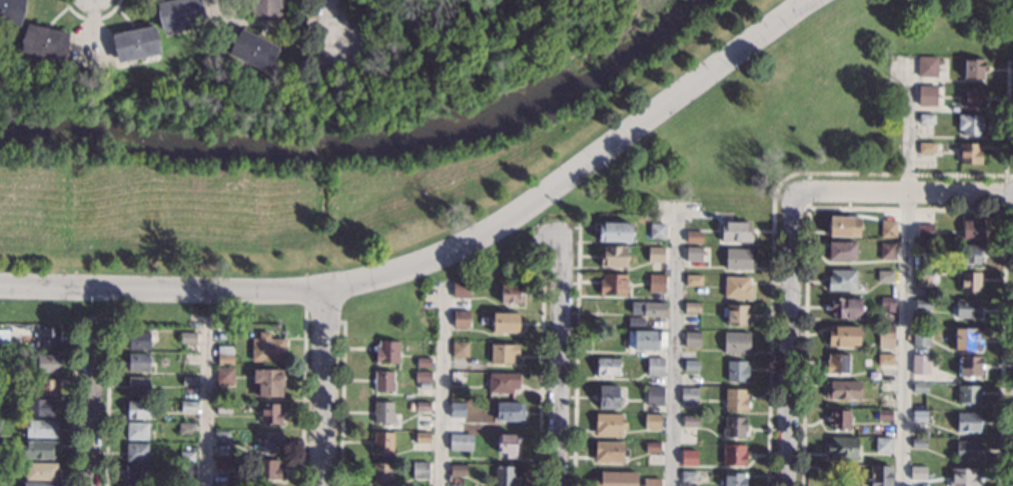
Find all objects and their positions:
building: (264, 7)
building: (11, 11)
building: (179, 13)
road: (89, 19)
road: (263, 24)
road: (330, 27)
road: (298, 31)
building: (44, 42)
building: (135, 43)
building: (253, 50)
building: (927, 66)
building: (974, 68)
building: (927, 91)
building: (972, 97)
building: (926, 118)
building: (970, 125)
park: (452, 139)
river: (366, 144)
building: (929, 147)
building: (969, 153)
road: (579, 166)
road: (903, 194)
building: (843, 226)
building: (888, 229)
building: (926, 230)
building: (972, 230)
building: (657, 231)
building: (614, 232)
building: (736, 232)
building: (694, 237)
building: (923, 247)
building: (842, 251)
building: (887, 251)
building: (693, 253)
building: (655, 254)
building: (970, 254)
building: (613, 256)
building: (738, 259)
building: (929, 265)
road: (905, 275)
building: (885, 276)
building: (693, 280)
building: (841, 280)
building: (922, 280)
building: (970, 281)
building: (656, 282)
building: (613, 284)
road: (164, 286)
building: (737, 287)
building: (461, 288)
road: (305, 289)
building: (511, 291)
building: (923, 304)
building: (887, 305)
building: (692, 307)
building: (844, 308)
building: (966, 308)
building: (648, 309)
building: (736, 314)
road: (91, 317)
road: (324, 318)
building: (461, 319)
building: (506, 322)
building: (635, 322)
building: (843, 335)
building: (886, 335)
building: (187, 337)
building: (921, 337)
building: (50, 338)
building: (692, 339)
building: (965, 339)
building: (138, 340)
building: (646, 340)
road: (787, 341)
building: (736, 342)
building: (267, 348)
road: (671, 348)
building: (460, 349)
building: (386, 351)
building: (503, 353)
building: (224, 355)
road: (557, 358)
building: (885, 359)
building: (921, 360)
building: (138, 362)
building: (423, 362)
building: (47, 363)
building: (837, 363)
building: (691, 365)
building: (607, 366)
building: (654, 366)
building: (969, 367)
building: (737, 371)
building: (224, 375)
building: (458, 377)
building: (423, 379)
building: (188, 381)
building: (383, 381)
building: (268, 382)
building: (503, 382)
building: (137, 385)
road: (326, 386)
building: (48, 387)
road: (207, 387)
building: (886, 387)
building: (920, 388)
building: (842, 389)
road: (440, 391)
building: (968, 393)
building: (688, 395)
road: (303, 396)
building: (654, 396)
building: (608, 397)
building: (736, 400)
building: (411, 405)
building: (187, 406)
building: (423, 406)
building: (42, 407)
building: (223, 407)
building: (137, 409)
building: (457, 409)
road: (91, 411)
building: (509, 411)
building: (383, 413)
building: (270, 414)
building: (884, 414)
building: (919, 415)
building: (838, 419)
building: (652, 420)
building: (690, 421)
building: (968, 422)
building: (609, 424)
building: (734, 426)
building: (186, 428)
building: (42, 429)
building: (136, 430)
building: (221, 435)
building: (422, 437)
building: (268, 441)
building: (382, 442)
building: (460, 442)
building: (918, 442)
building: (507, 444)
building: (883, 445)
building: (652, 447)
building: (842, 447)
building: (688, 448)
building: (38, 449)
building: (967, 450)
building: (609, 451)
building: (136, 452)
building: (734, 455)
building: (186, 456)
building: (689, 457)
building: (220, 463)
building: (267, 469)
building: (420, 470)
building: (458, 470)
building: (41, 471)
building: (186, 471)
building: (136, 472)
building: (382, 473)
building: (917, 473)
building: (505, 475)
building: (688, 476)
building: (881, 476)
building: (963, 477)
building: (616, 479)
building: (735, 479)
building: (651, 482)
building: (38, 484)
building: (132, 485)

